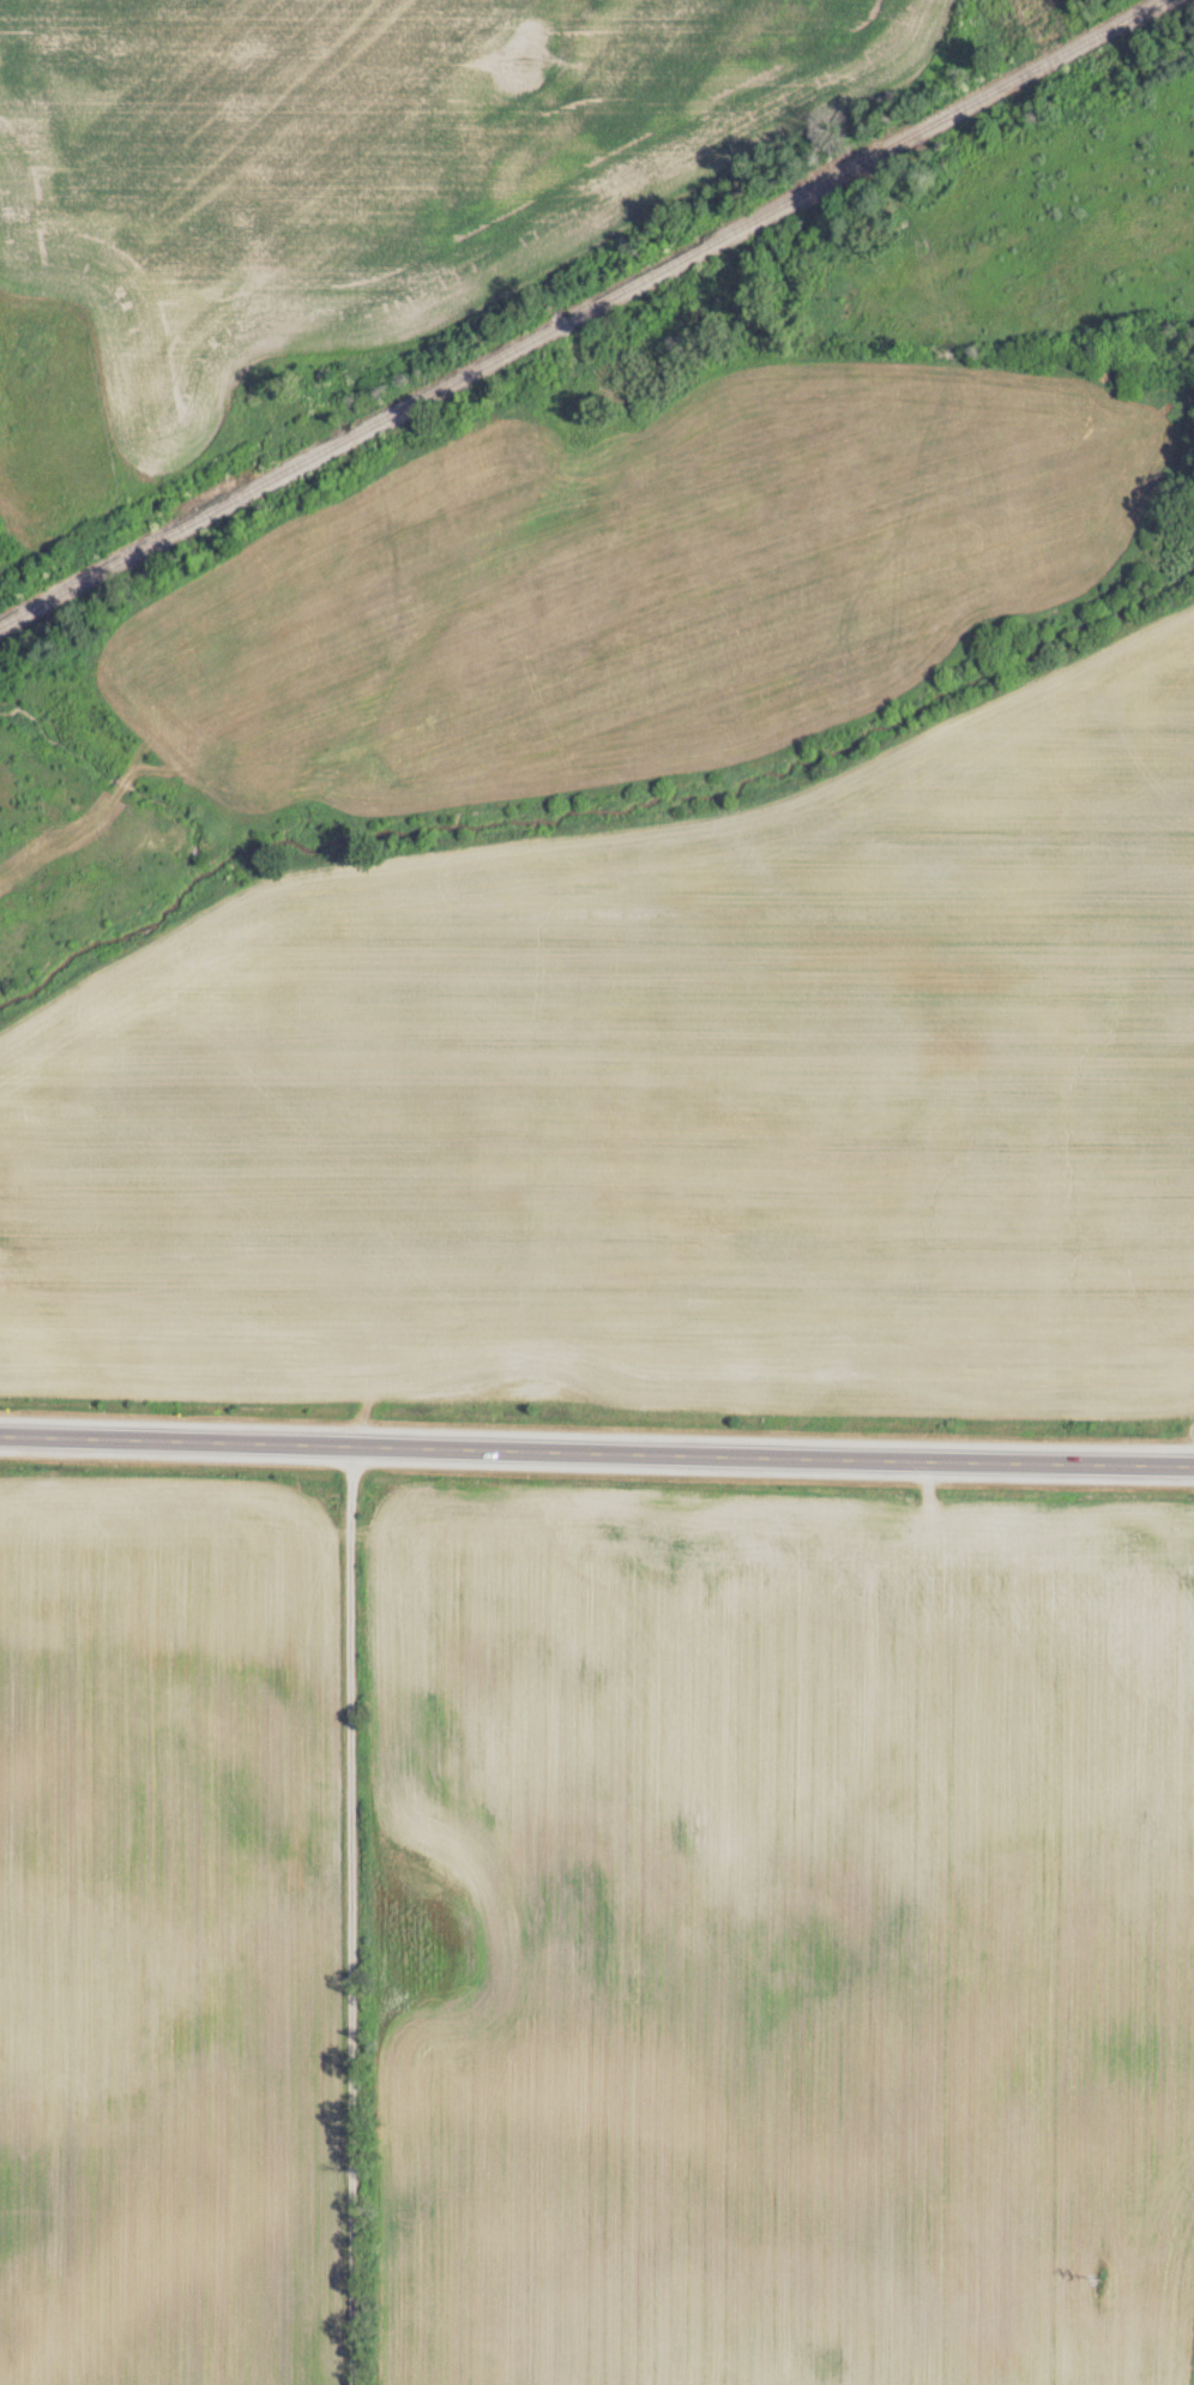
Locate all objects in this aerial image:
railway: (585, 314)
road: (597, 1449)
road: (351, 1914)

